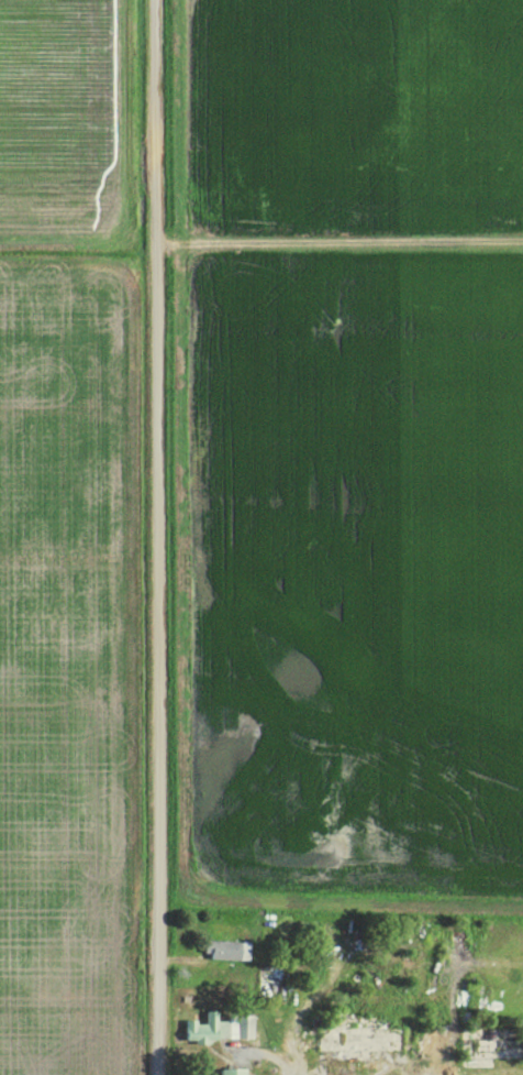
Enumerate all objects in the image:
road: (158, 537)
building: (224, 948)
building: (268, 980)
building: (238, 1024)
building: (203, 1028)
building: (345, 1039)
building: (227, 1072)

